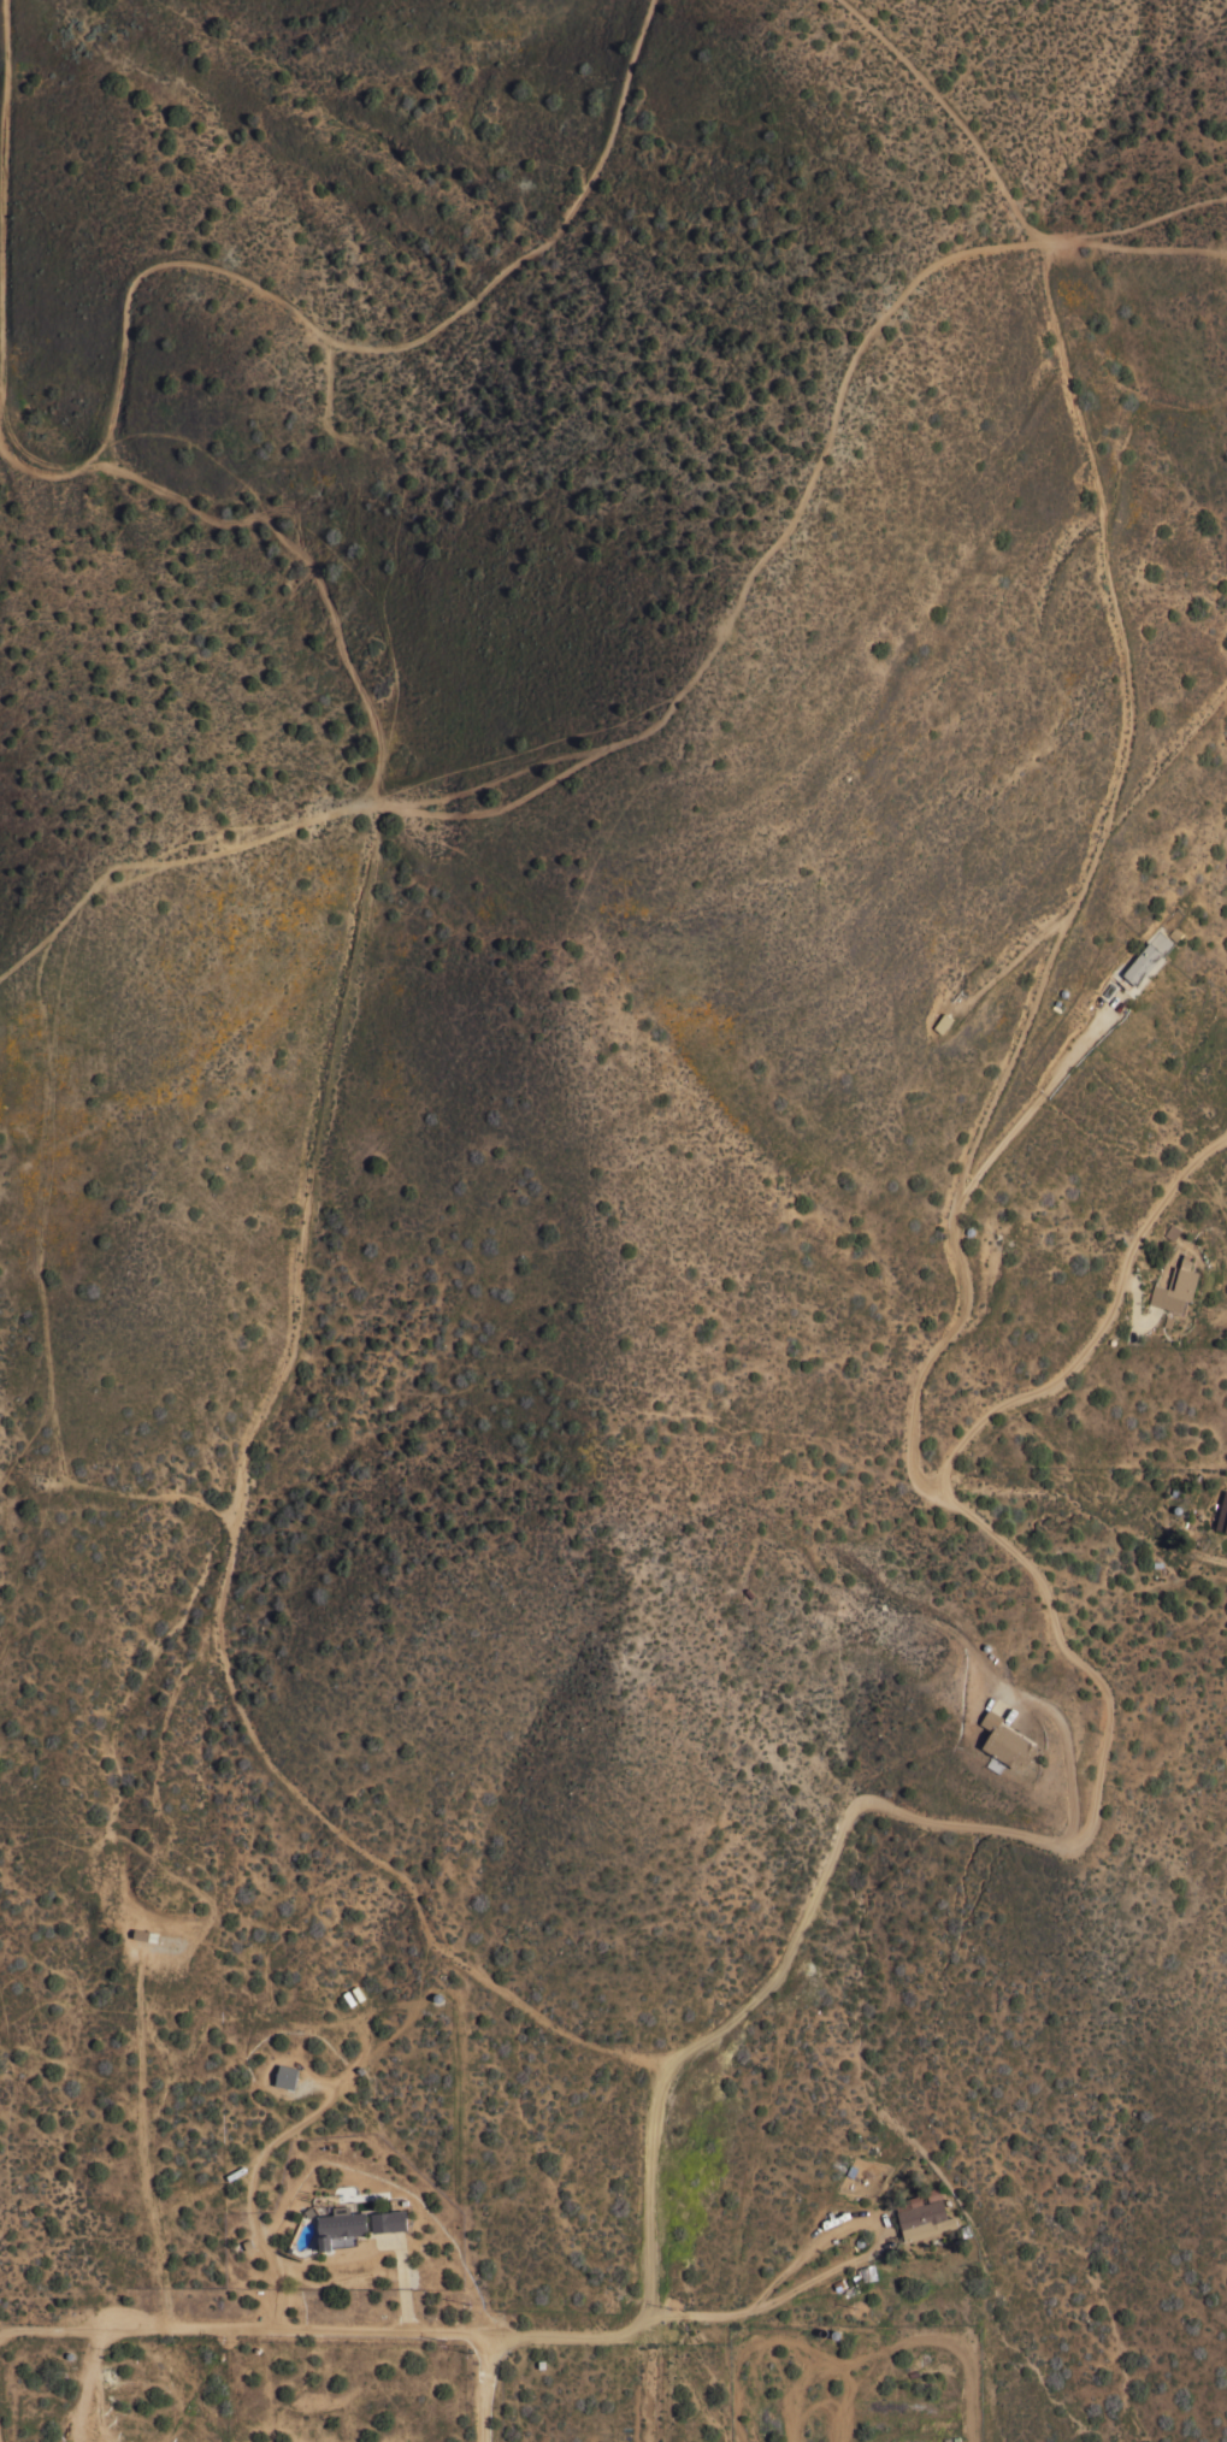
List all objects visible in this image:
road: (1084, 885)
building: (1146, 957)
building: (1172, 1232)
building: (1175, 1286)
building: (1222, 1514)
building: (1005, 1741)
road: (1066, 1748)
road: (990, 1829)
building: (144, 1934)
building: (285, 2075)
building: (925, 2216)
building: (388, 2219)
road: (881, 2223)
building: (338, 2224)
road: (695, 2314)
road: (296, 2329)
road: (53, 2331)
road: (84, 2373)

